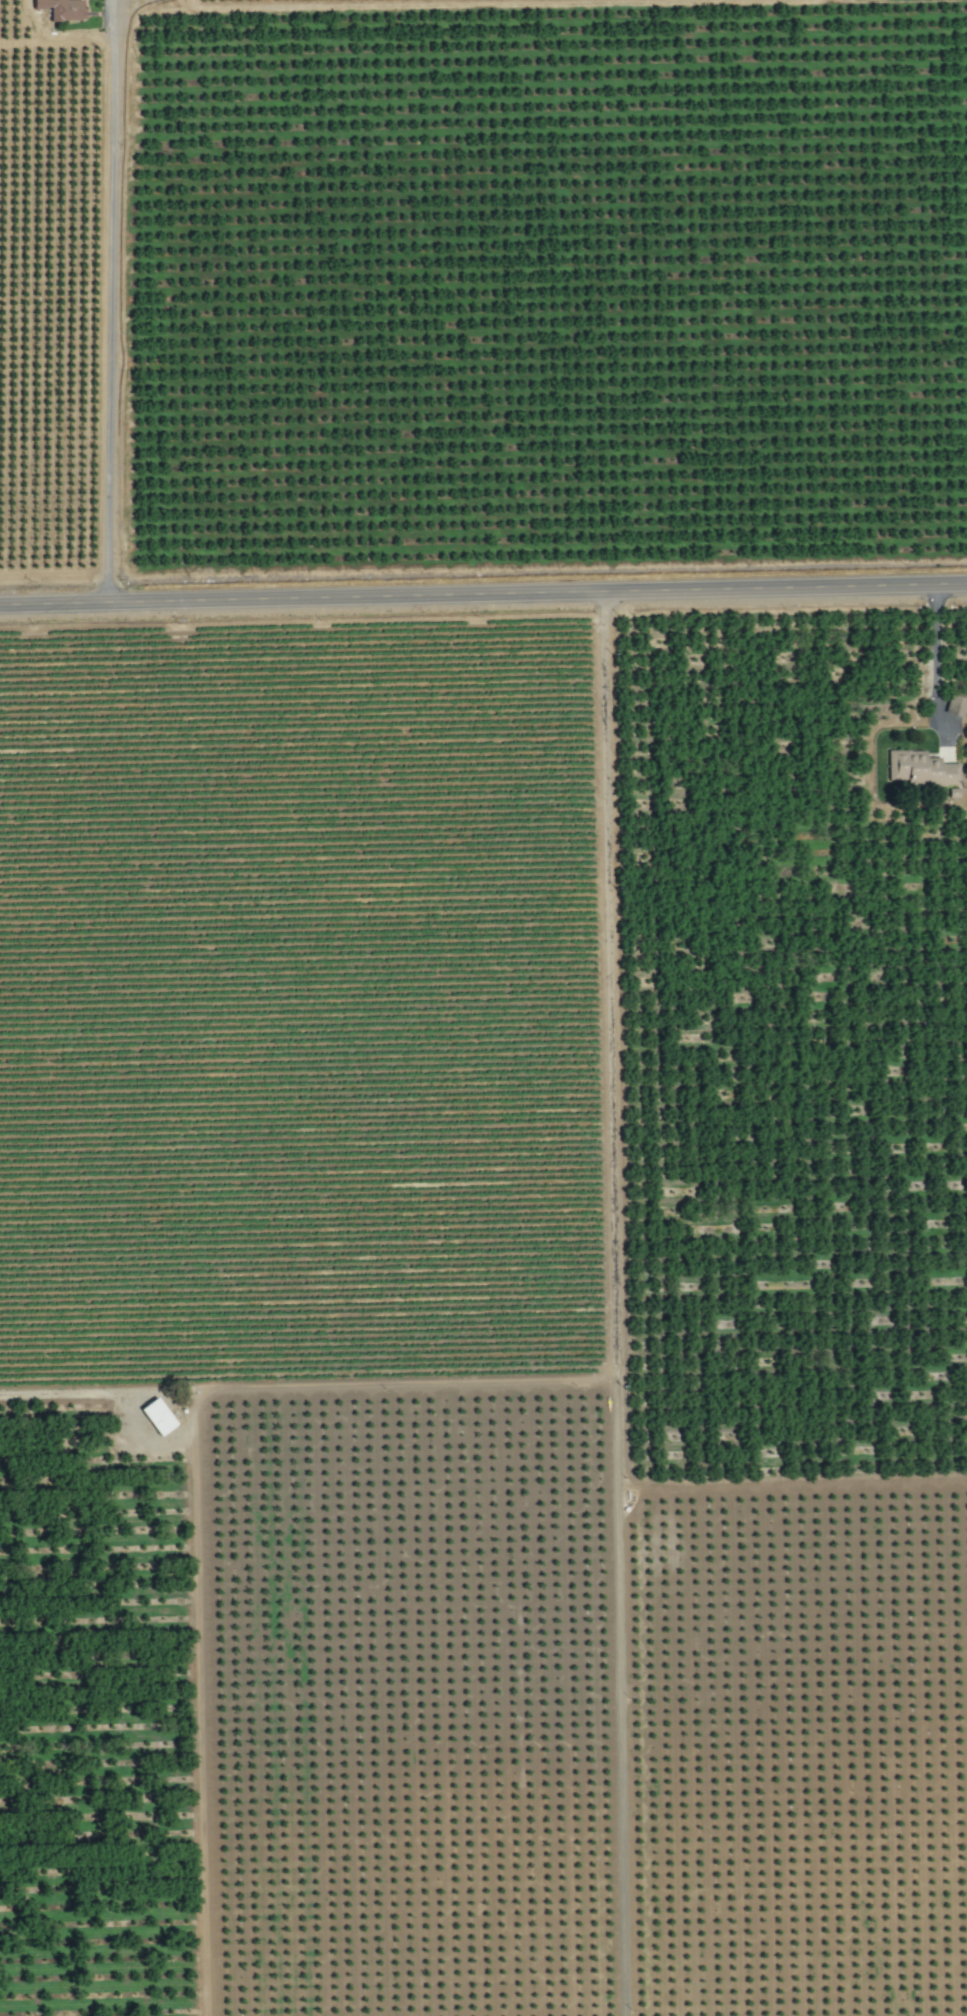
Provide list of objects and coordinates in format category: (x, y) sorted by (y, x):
building: (60, 8)
road: (110, 302)
road: (483, 596)
road: (937, 669)
building: (956, 704)
building: (918, 767)
road: (615, 1304)
road: (408, 1386)
building: (156, 1416)

